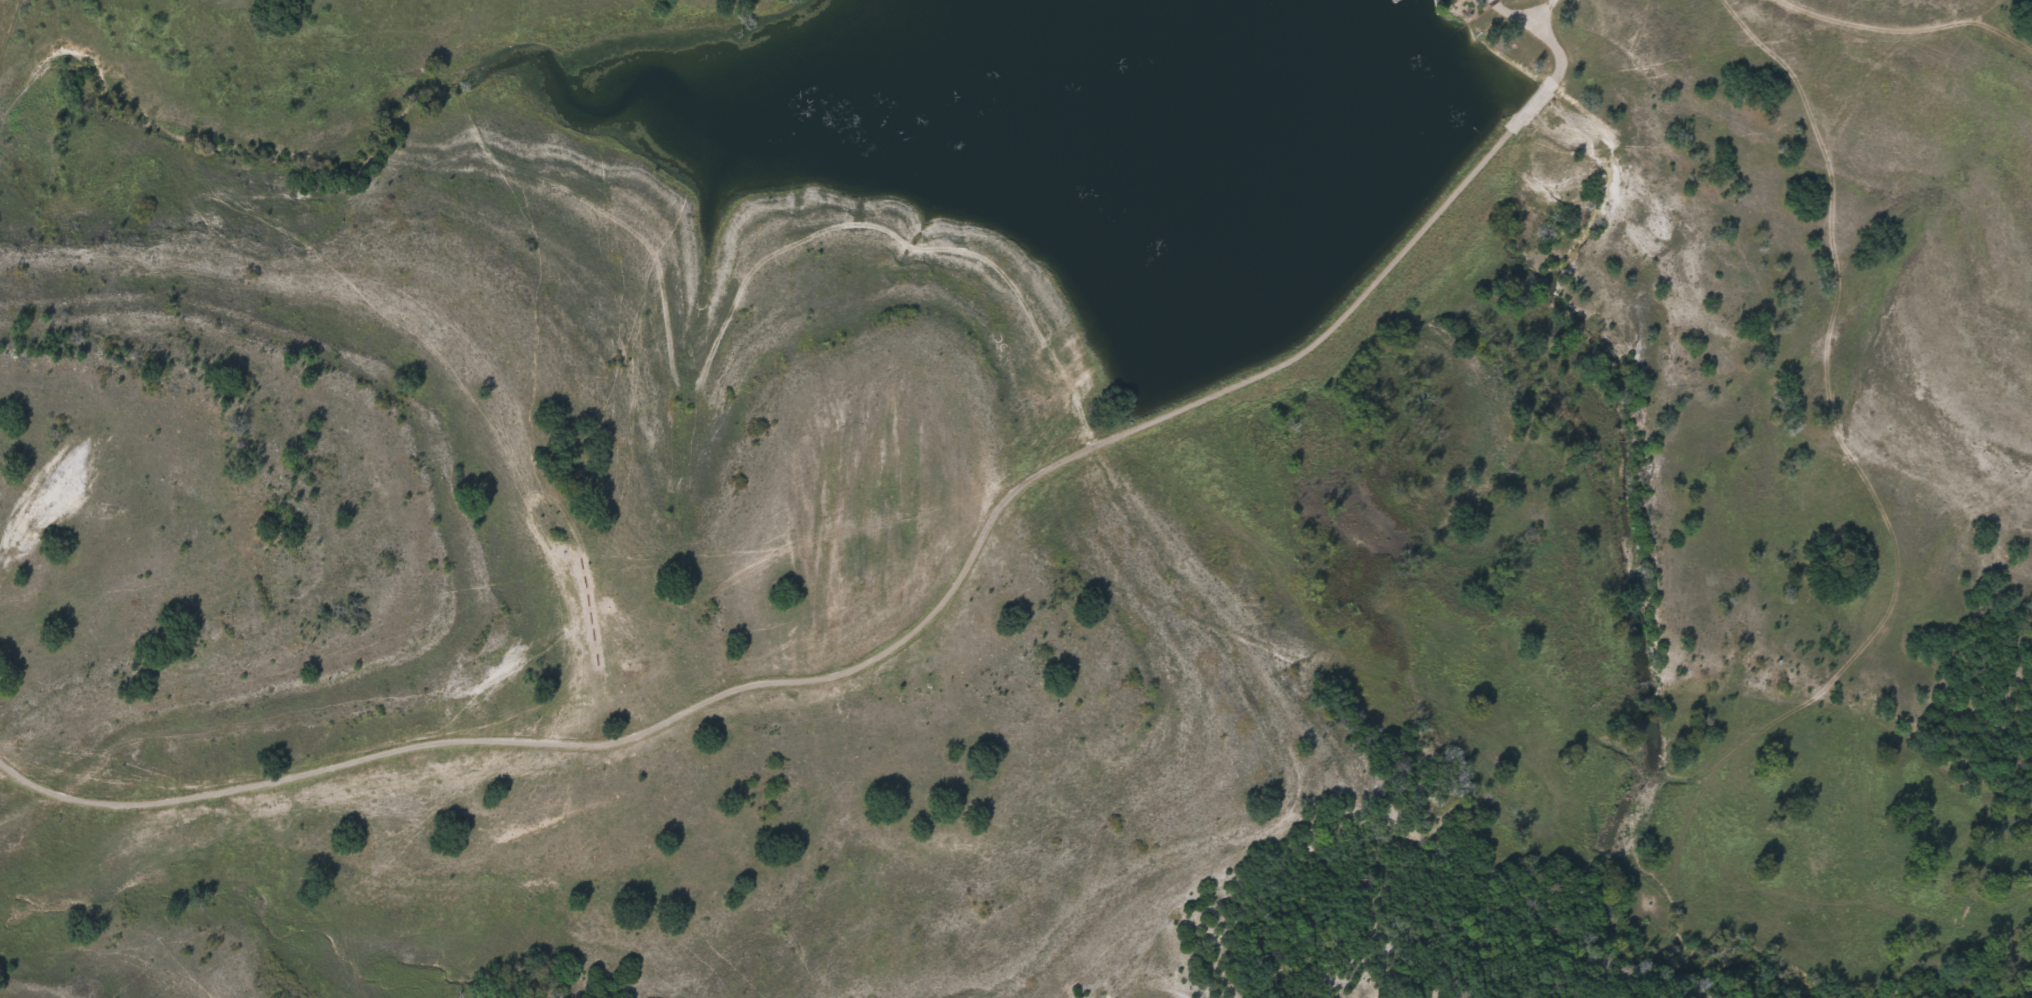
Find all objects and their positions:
dam: (1367, 288)
road: (907, 631)

